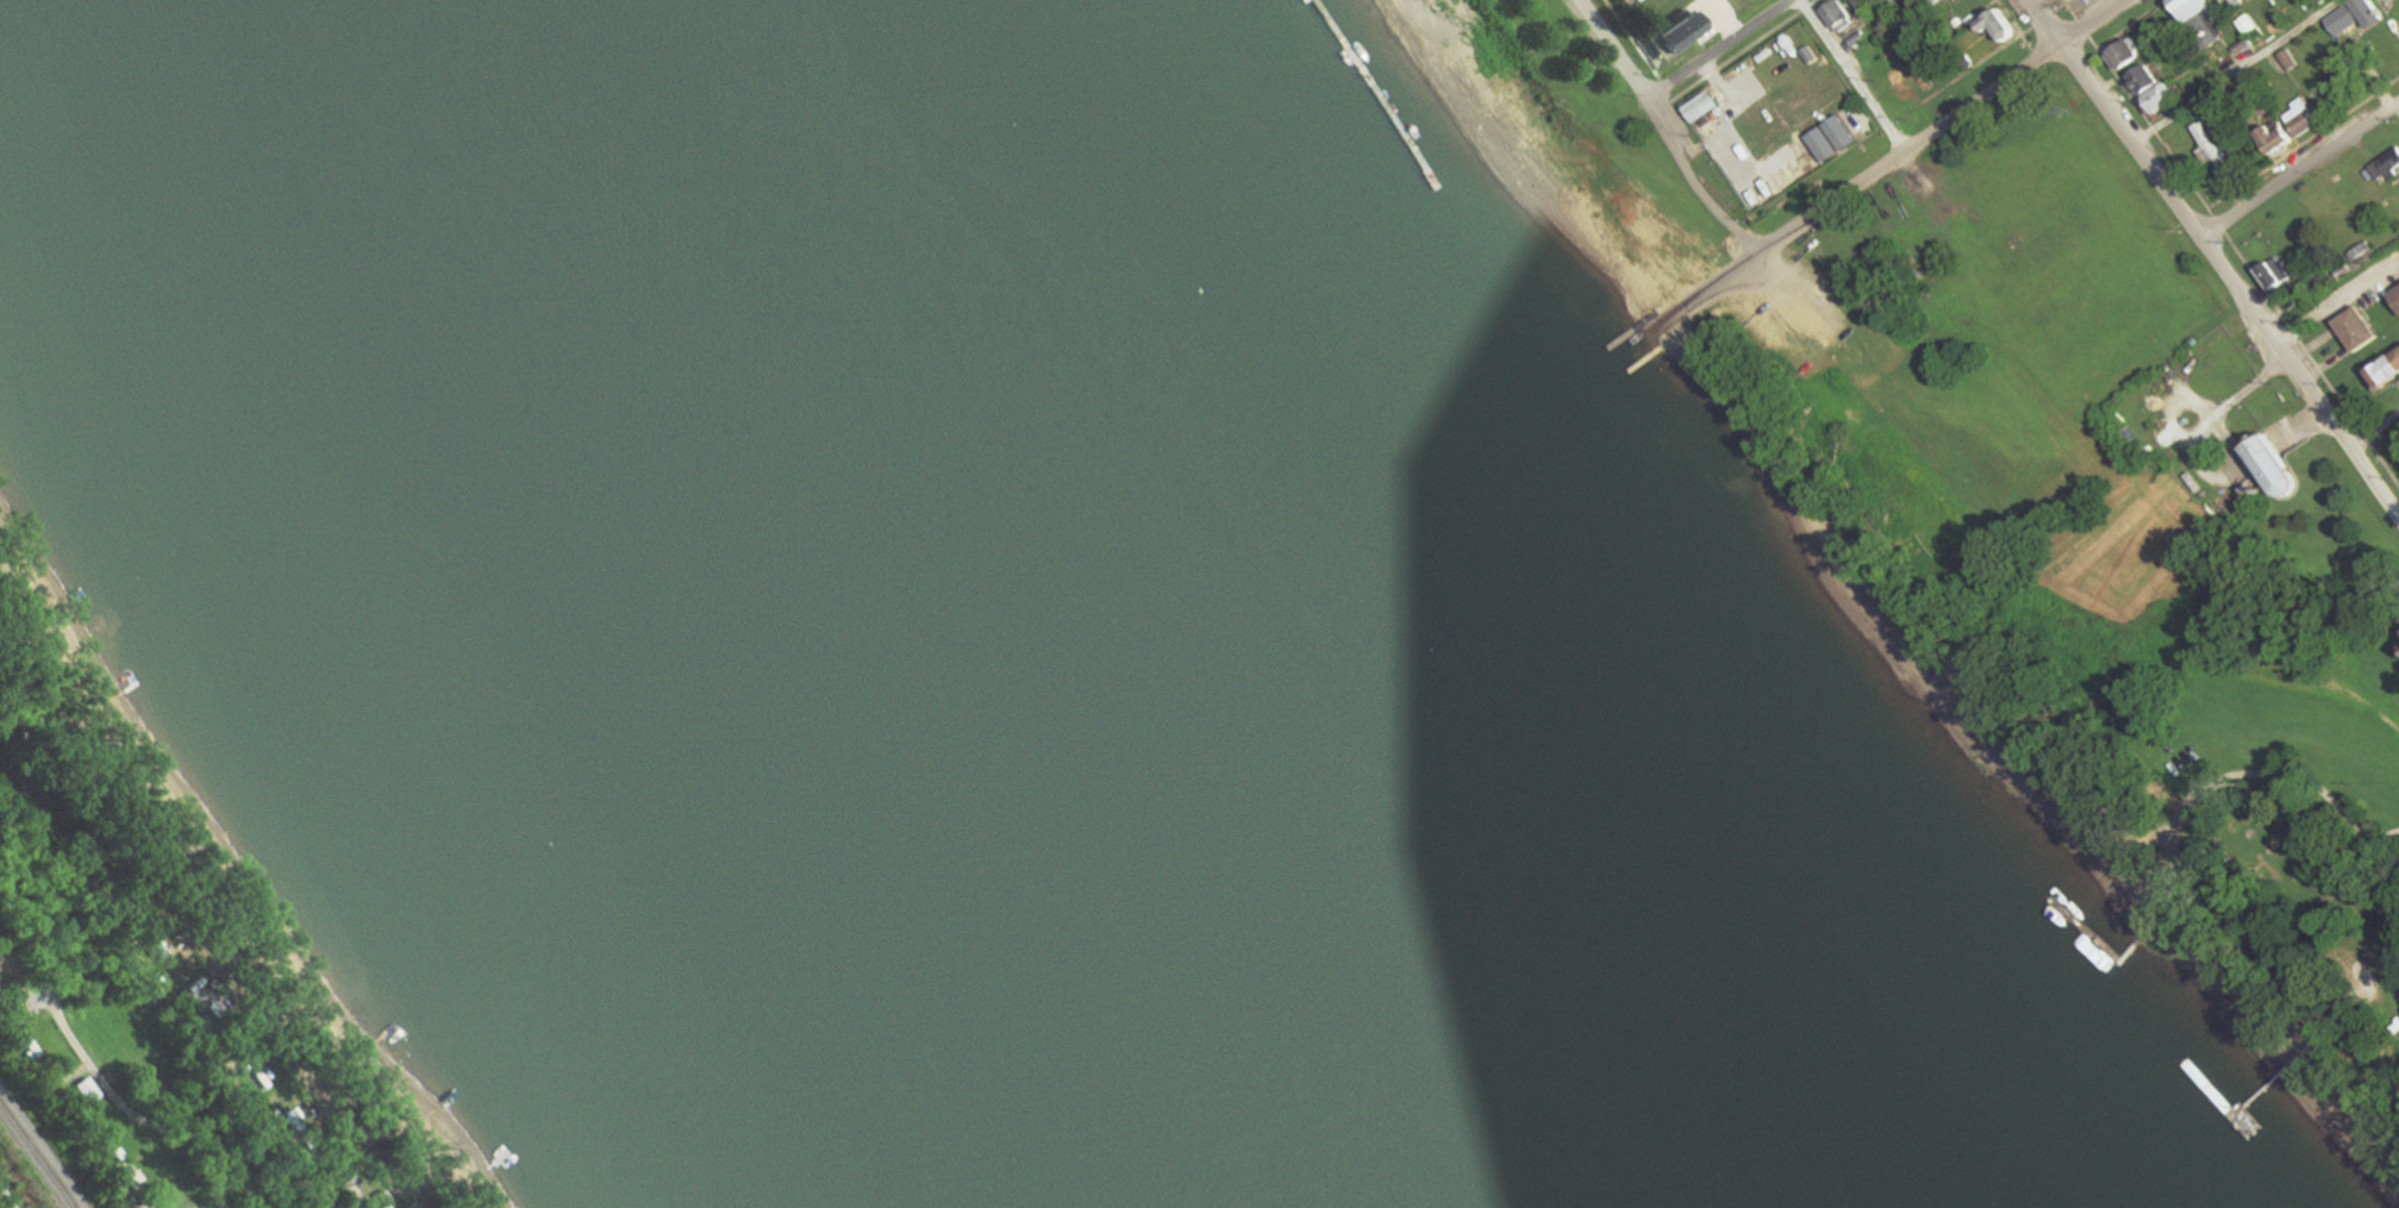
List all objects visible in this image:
building: (1616, 0)
road: (1812, 1)
building: (2235, 1)
road: (2063, 4)
building: (2186, 7)
road: (2069, 8)
building: (1836, 14)
building: (2351, 15)
road: (2044, 18)
building: (1993, 23)
building: (2245, 23)
road: (2132, 24)
road: (2018, 26)
road: (2083, 26)
building: (2204, 29)
building: (1670, 31)
road: (1631, 38)
road: (1718, 46)
road: (1613, 49)
road: (1739, 51)
building: (2122, 51)
road: (1973, 68)
road: (2238, 71)
road: (1853, 74)
building: (2139, 79)
road: (1663, 88)
building: (2156, 96)
building: (1699, 105)
road: (2119, 117)
building: (2299, 117)
pier: (1338, 119)
road: (1939, 124)
road: (2150, 124)
building: (2270, 136)
road: (2303, 142)
park: (1574, 144)
building: (2206, 148)
building: (2389, 163)
road: (2299, 168)
road: (1692, 180)
road: (2218, 221)
building: (2270, 271)
building: (2394, 298)
road: (2337, 300)
building: (2354, 328)
road: (2312, 358)
building: (2384, 368)
road: (2301, 374)
building: (2267, 467)
river: (969, 603)
building: (2398, 631)
road: (2245, 776)
pier: (2097, 953)
road: (158, 995)
road: (92, 1076)
railway: (35, 1157)

